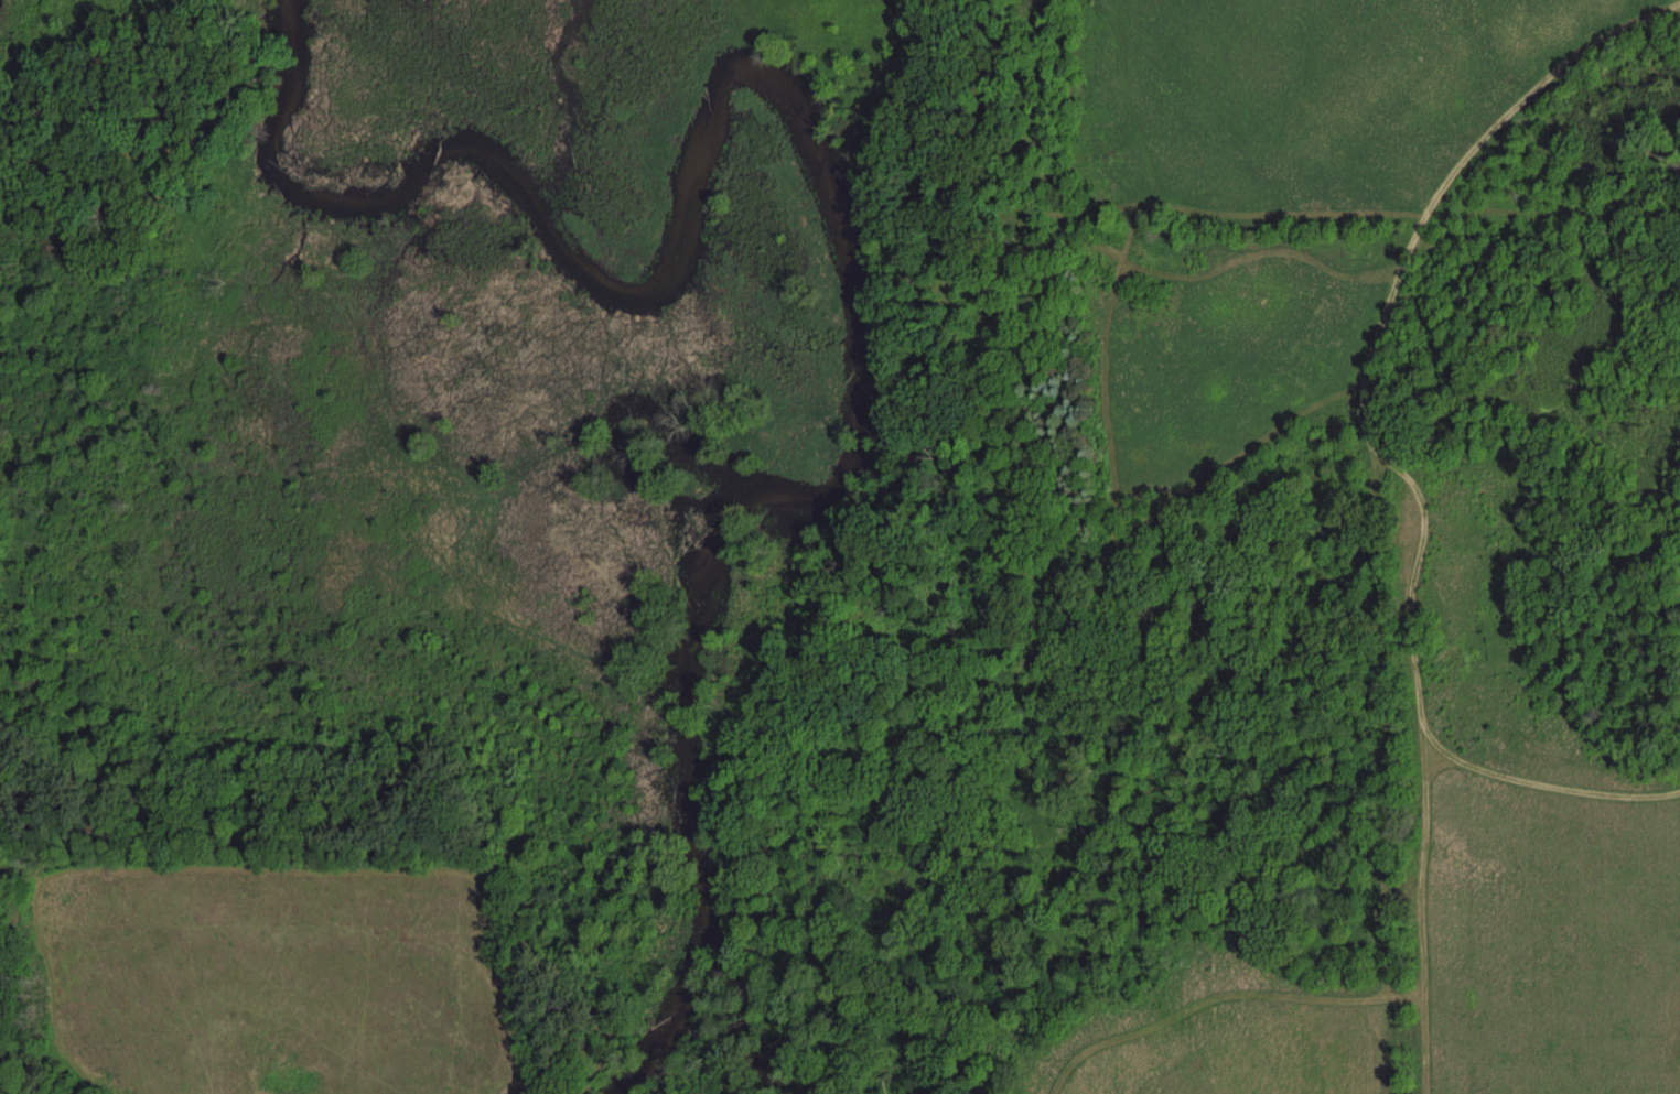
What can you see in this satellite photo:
river: (841, 195)

